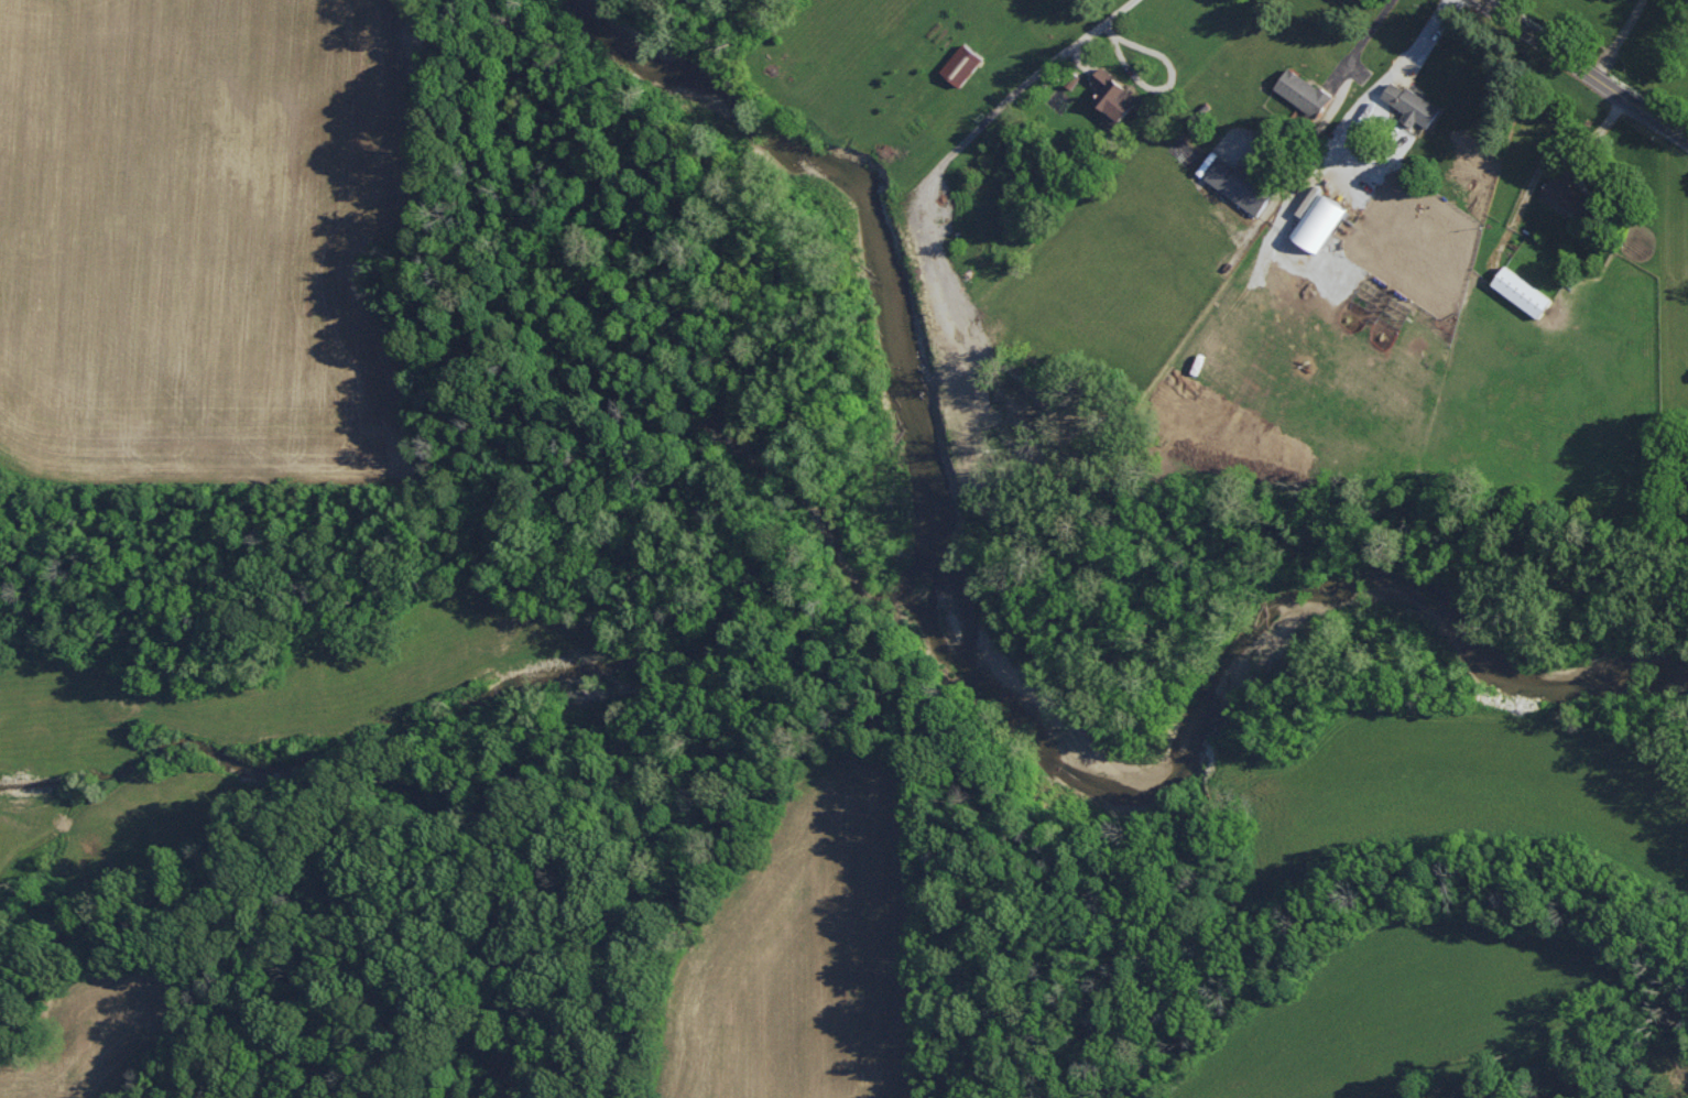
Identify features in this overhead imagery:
road: (1114, 14)
road: (1621, 39)
road: (1362, 42)
building: (962, 63)
road: (1586, 68)
road: (1169, 85)
building: (1304, 90)
building: (1113, 95)
building: (1412, 104)
building: (1242, 184)
building: (1569, 192)
building: (1319, 220)
building: (1523, 290)

